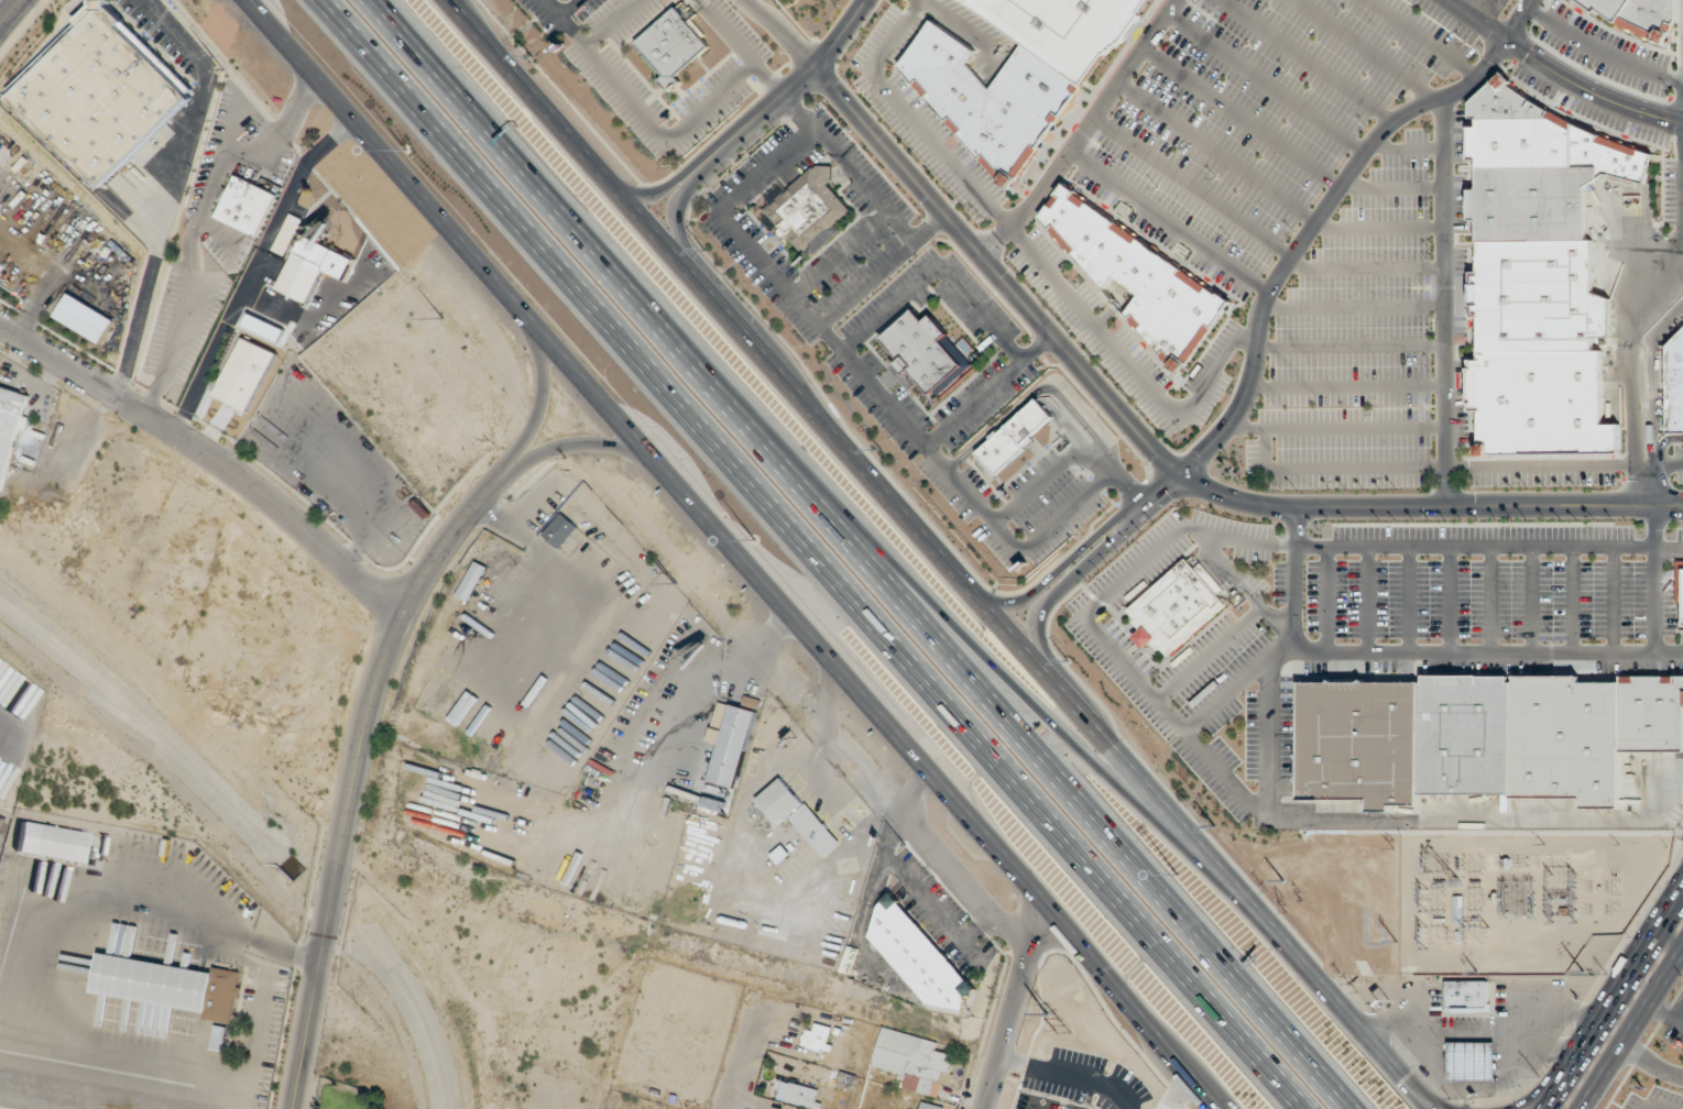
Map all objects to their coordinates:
road: (568, 8)
road: (11, 13)
building: (1640, 15)
road: (614, 23)
building: (1064, 28)
road: (966, 29)
road: (783, 33)
road: (1425, 37)
building: (671, 45)
road: (742, 48)
road: (1366, 50)
road: (1602, 52)
road: (302, 53)
road: (1307, 61)
road: (606, 68)
road: (1556, 73)
road: (1266, 81)
road: (790, 91)
building: (101, 94)
road: (711, 100)
road: (1242, 117)
road: (478, 124)
road: (1081, 131)
road: (1408, 146)
road: (1217, 151)
road: (851, 168)
road: (1192, 186)
road: (1396, 187)
road: (662, 191)
building: (247, 206)
building: (808, 209)
road: (677, 217)
road: (1167, 222)
road: (1381, 229)
building: (287, 233)
road: (1300, 244)
road: (842, 252)
road: (1036, 255)
road: (938, 265)
building: (305, 268)
road: (1367, 268)
road: (883, 270)
building: (1539, 276)
building: (1139, 277)
road: (1450, 298)
road: (1356, 307)
road: (829, 333)
road: (1353, 347)
building: (927, 352)
road: (1637, 364)
building: (0, 365)
building: (244, 374)
road: (1650, 378)
building: (1675, 384)
road: (1351, 385)
road: (990, 391)
road: (1028, 395)
road: (543, 396)
building: (9, 426)
road: (1337, 427)
road: (1074, 436)
building: (1012, 437)
road: (577, 442)
road: (1662, 444)
road: (209, 455)
road: (1167, 463)
road: (1453, 465)
road: (1121, 477)
road: (1043, 479)
road: (1651, 485)
road: (1068, 510)
building: (559, 531)
road: (1476, 545)
road: (1670, 546)
road: (734, 551)
road: (940, 553)
road: (808, 556)
road: (1227, 569)
road: (1053, 573)
road: (1657, 578)
building: (472, 581)
building: (1680, 581)
road: (1063, 582)
road: (933, 602)
building: (1173, 607)
building: (1682, 618)
road: (1101, 632)
road: (1419, 651)
road: (970, 682)
road: (827, 698)
building: (1467, 734)
building: (733, 746)
road: (357, 768)
road: (868, 784)
road: (912, 792)
building: (795, 814)
building: (50, 842)
building: (780, 853)
road: (741, 887)
power substation: (1520, 896)
building: (1457, 910)
building: (919, 957)
power tower: (1475, 970)
power tower: (1583, 970)
road: (1621, 980)
building: (168, 985)
building: (1467, 996)
road: (1014, 1008)
road: (1632, 1029)
building: (220, 1037)
building: (817, 1037)
building: (912, 1061)
building: (1472, 1061)
gas station: (1472, 1061)
road: (747, 1063)
road: (1651, 1064)
road: (1552, 1095)
road: (1537, 1096)
building: (927, 1106)

